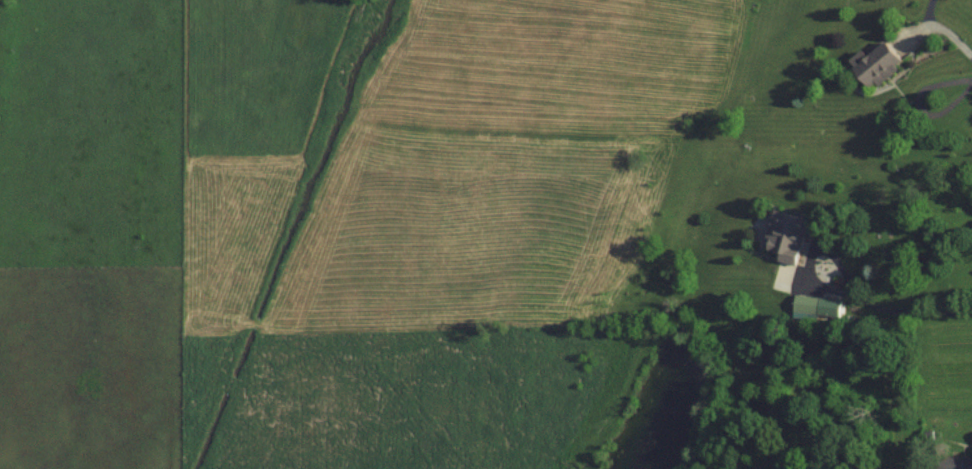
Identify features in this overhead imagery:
road: (938, 29)
building: (876, 63)
building: (789, 234)
road: (812, 253)
building: (815, 307)
road: (907, 311)
building: (957, 462)

